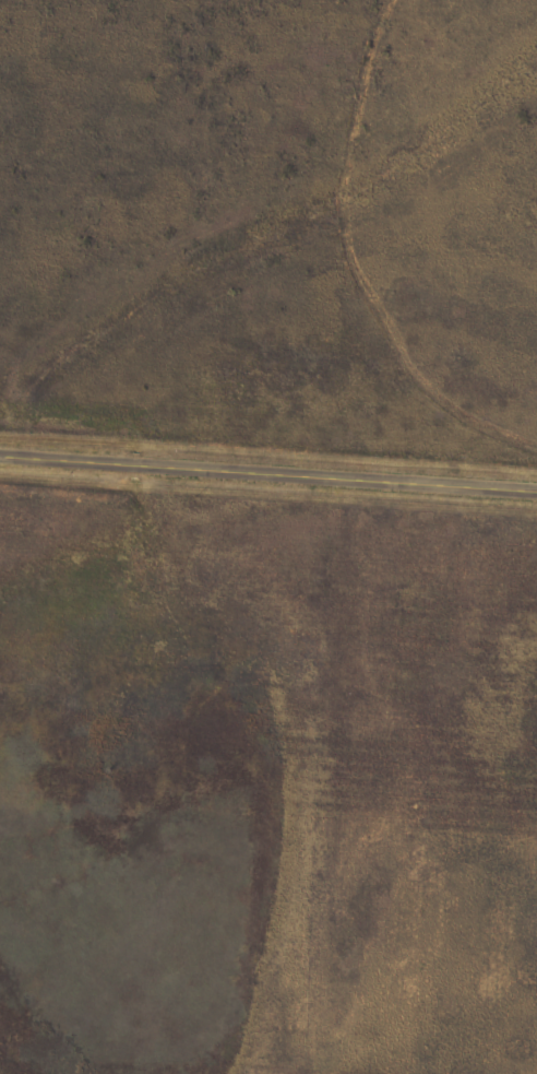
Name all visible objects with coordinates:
road: (268, 472)

